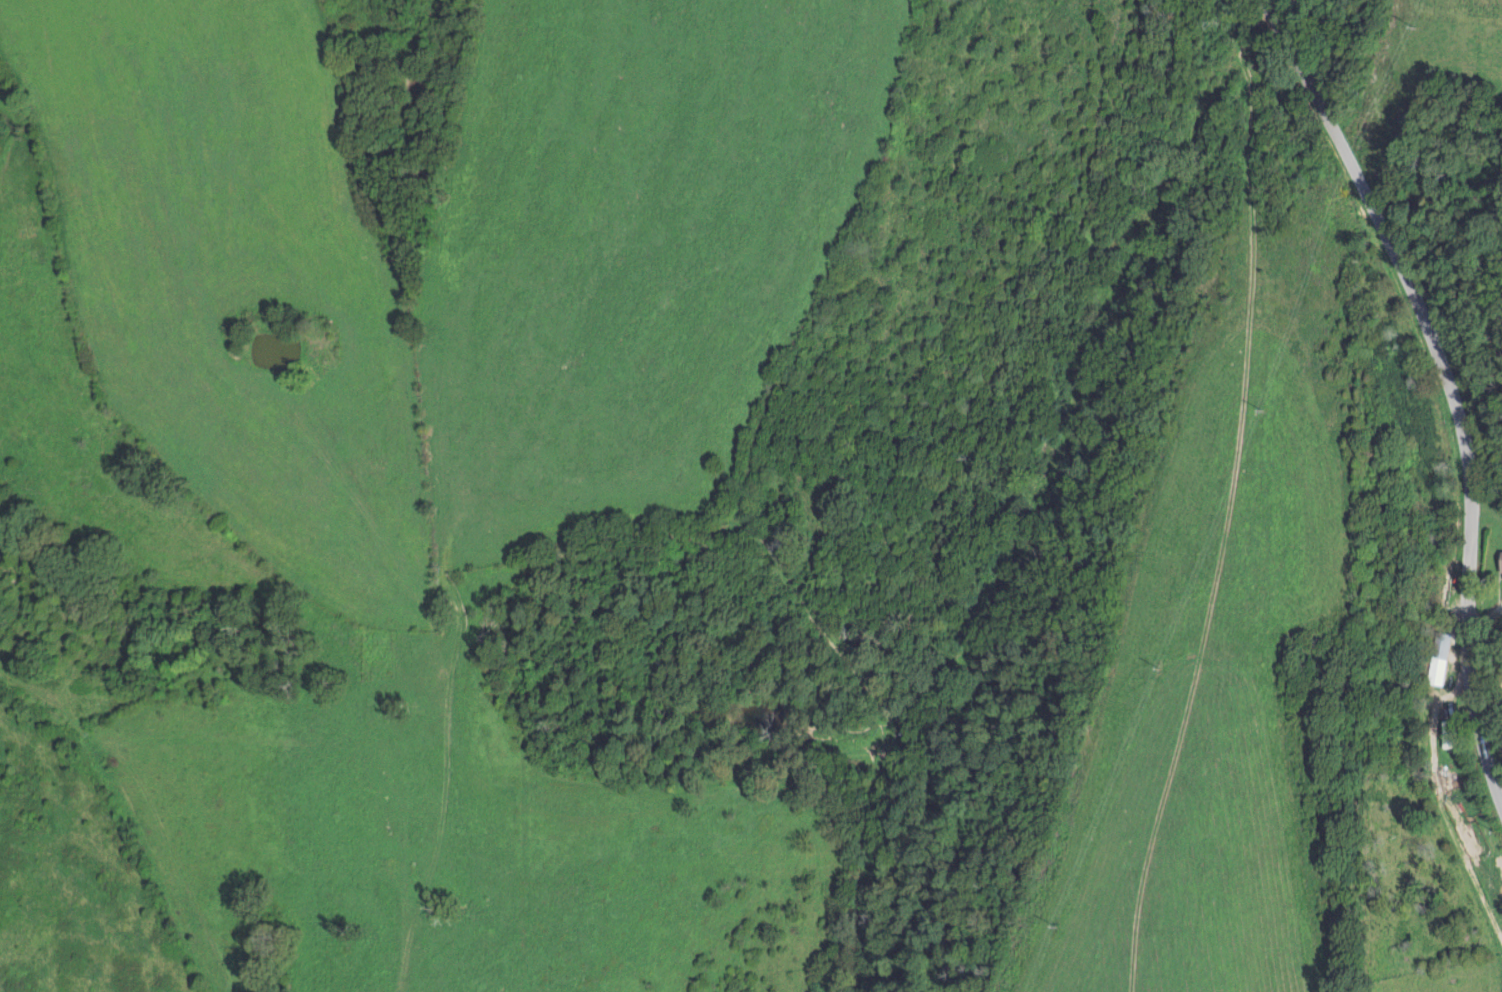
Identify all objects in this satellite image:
road: (1087, 361)
road: (1453, 385)
building: (1499, 566)
road: (1440, 670)
road: (135, 807)

